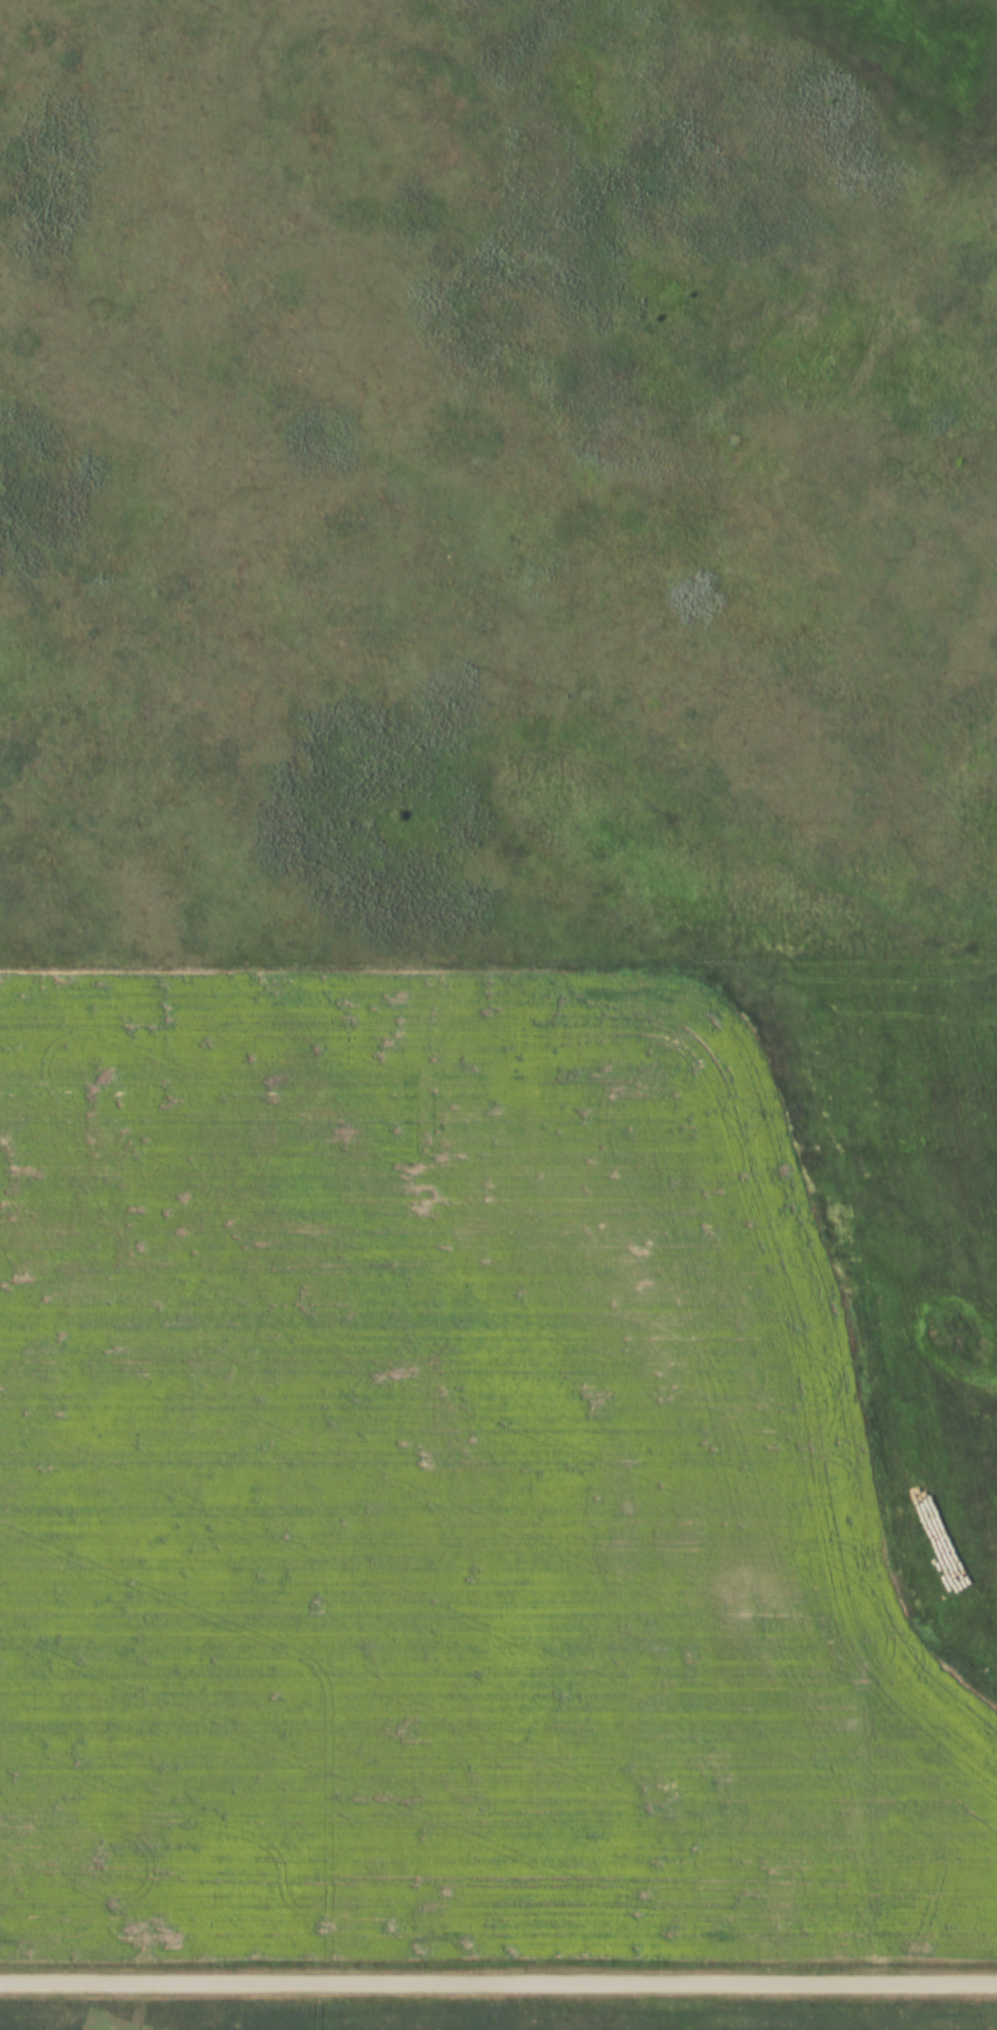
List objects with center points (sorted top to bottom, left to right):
road: (498, 1980)

